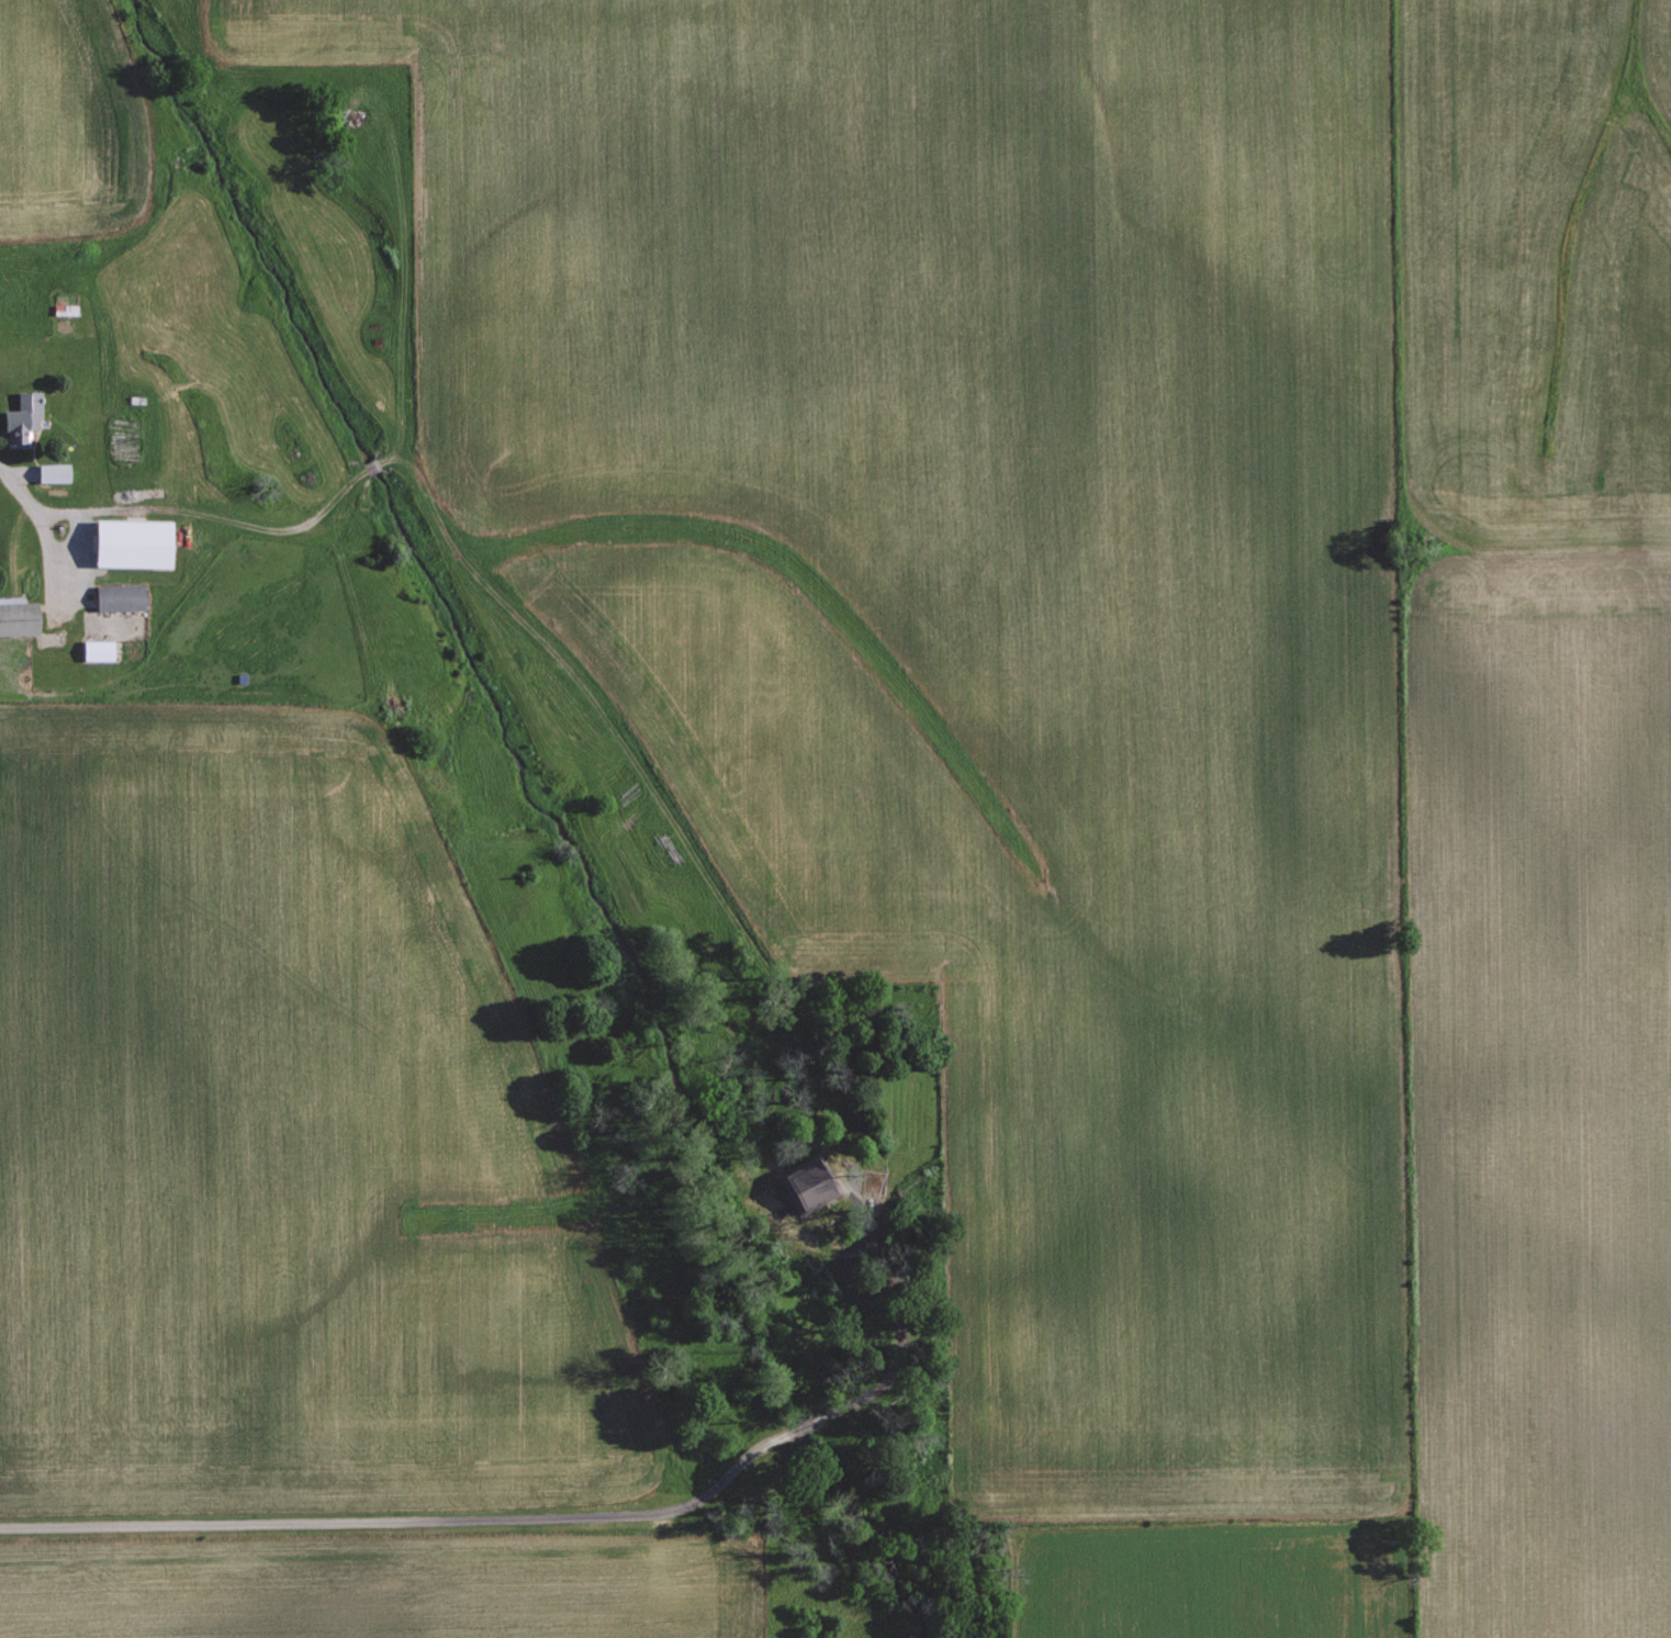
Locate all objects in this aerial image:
building: (23, 422)
road: (33, 509)
building: (132, 542)
building: (120, 596)
building: (16, 616)
building: (98, 650)
building: (808, 1185)

